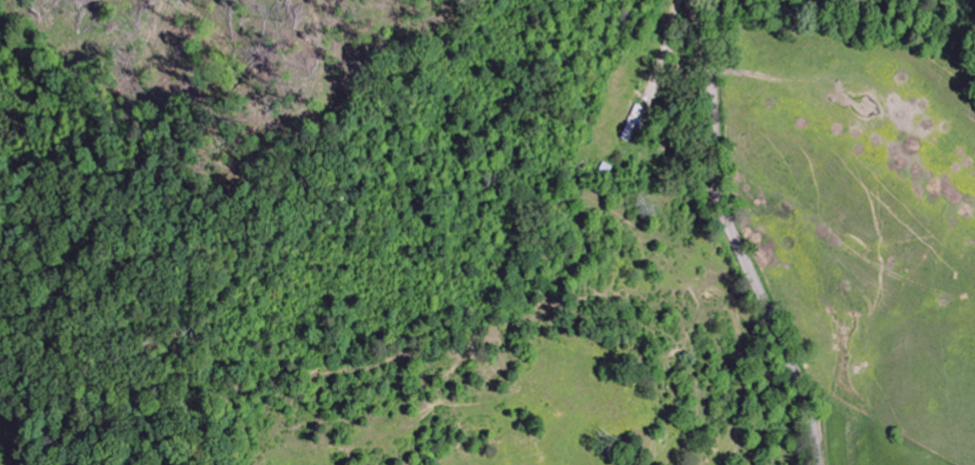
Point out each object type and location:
road: (735, 237)

